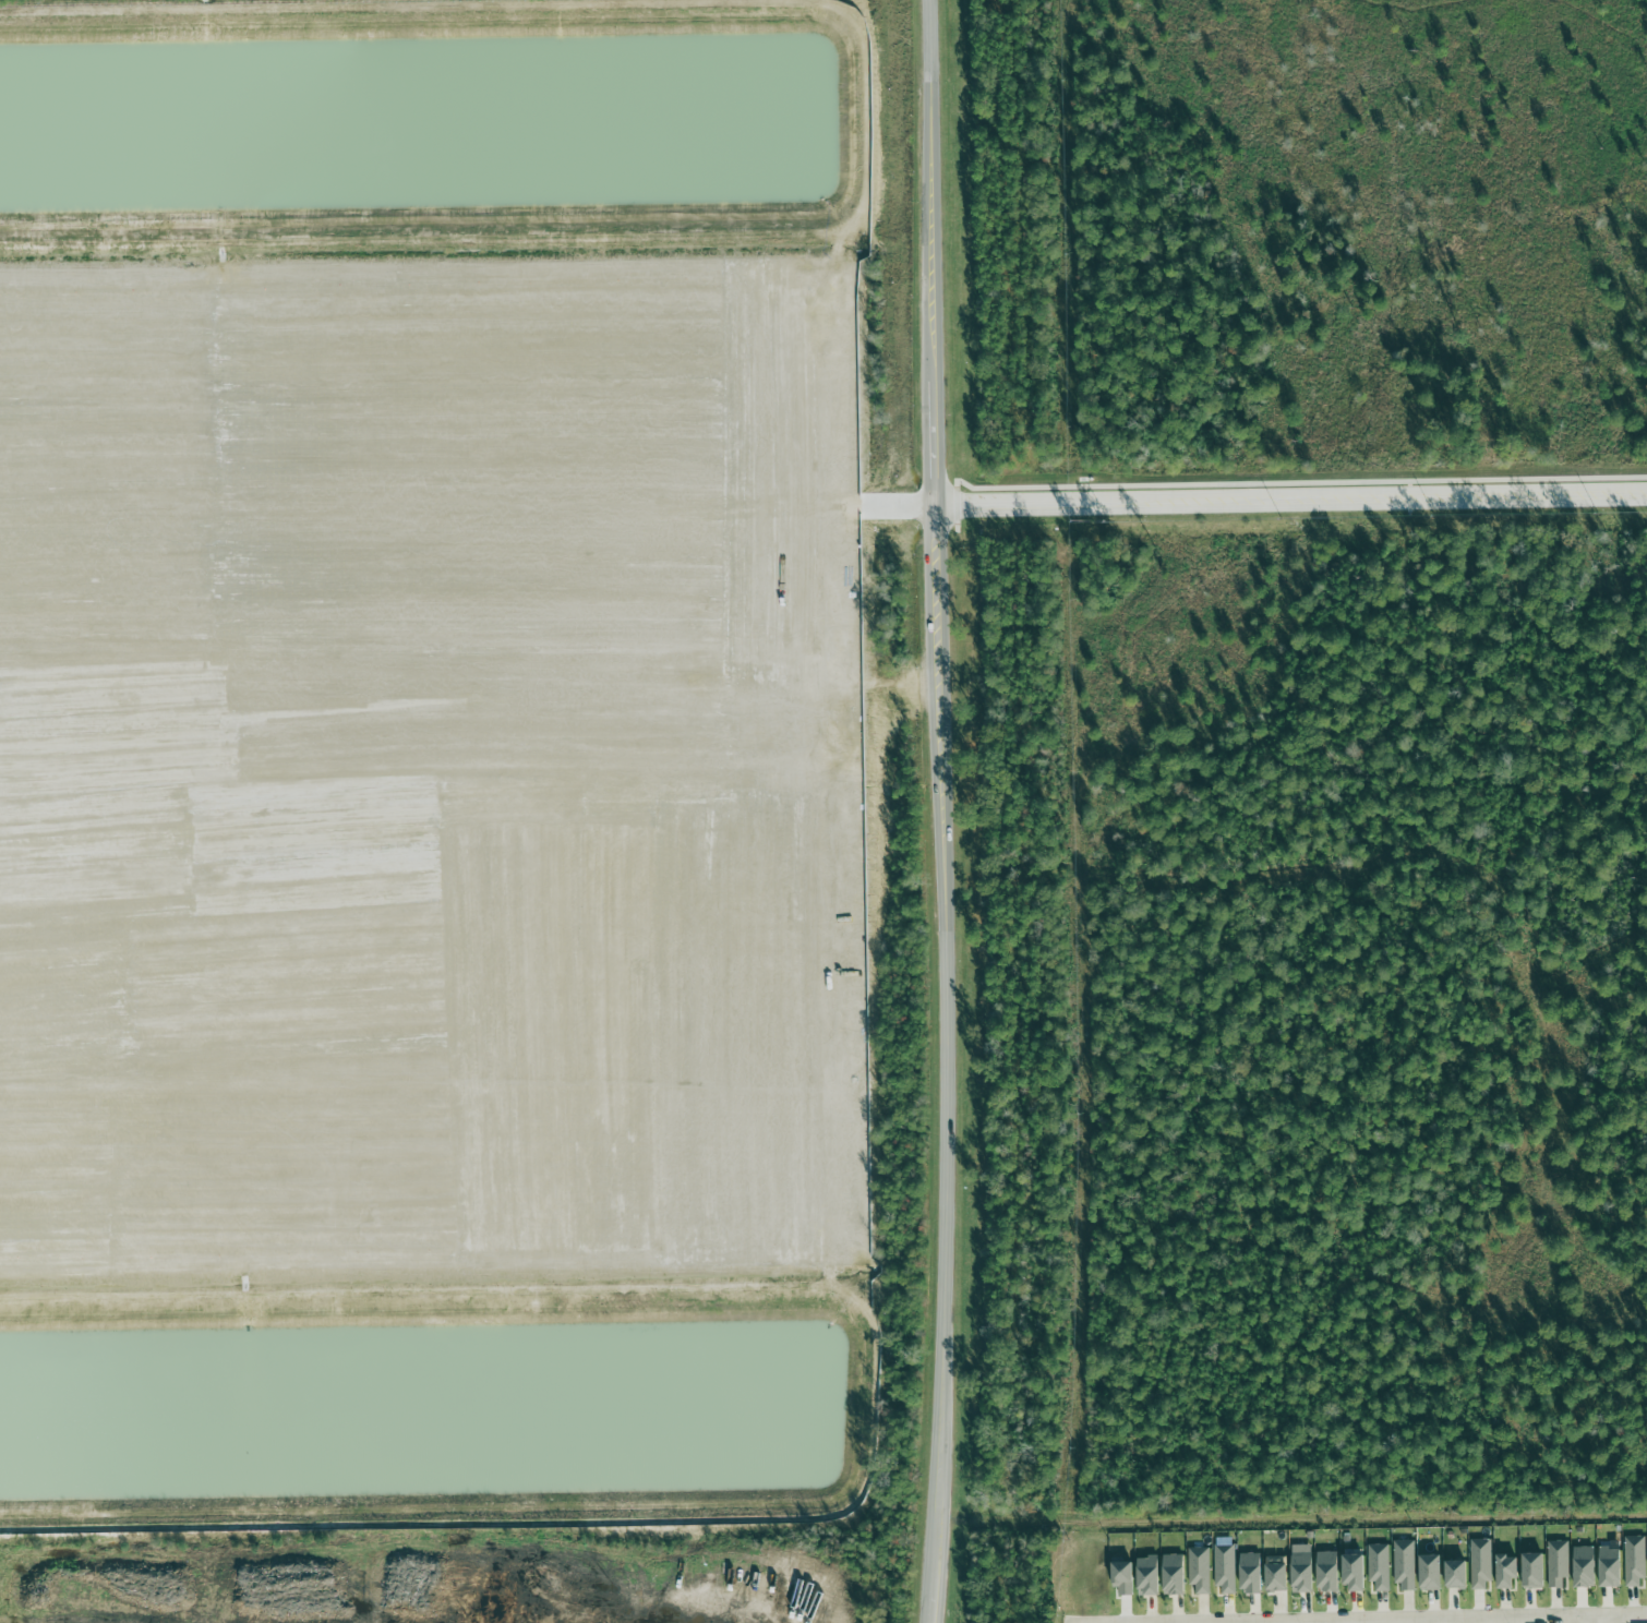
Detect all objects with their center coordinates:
road: (1290, 500)
road: (939, 785)
building: (1634, 1560)
building: (1480, 1563)
building: (1558, 1564)
building: (1404, 1565)
building: (1610, 1565)
building: (1379, 1566)
building: (1224, 1567)
building: (1584, 1567)
building: (1301, 1568)
building: (1199, 1570)
building: (1532, 1571)
building: (1327, 1572)
building: (1506, 1572)
building: (1250, 1573)
building: (1354, 1573)
building: (1430, 1573)
building: (1173, 1574)
building: (1456, 1575)
building: (1147, 1576)
building: (1122, 1577)
building: (1276, 1577)
road: (931, 1597)

